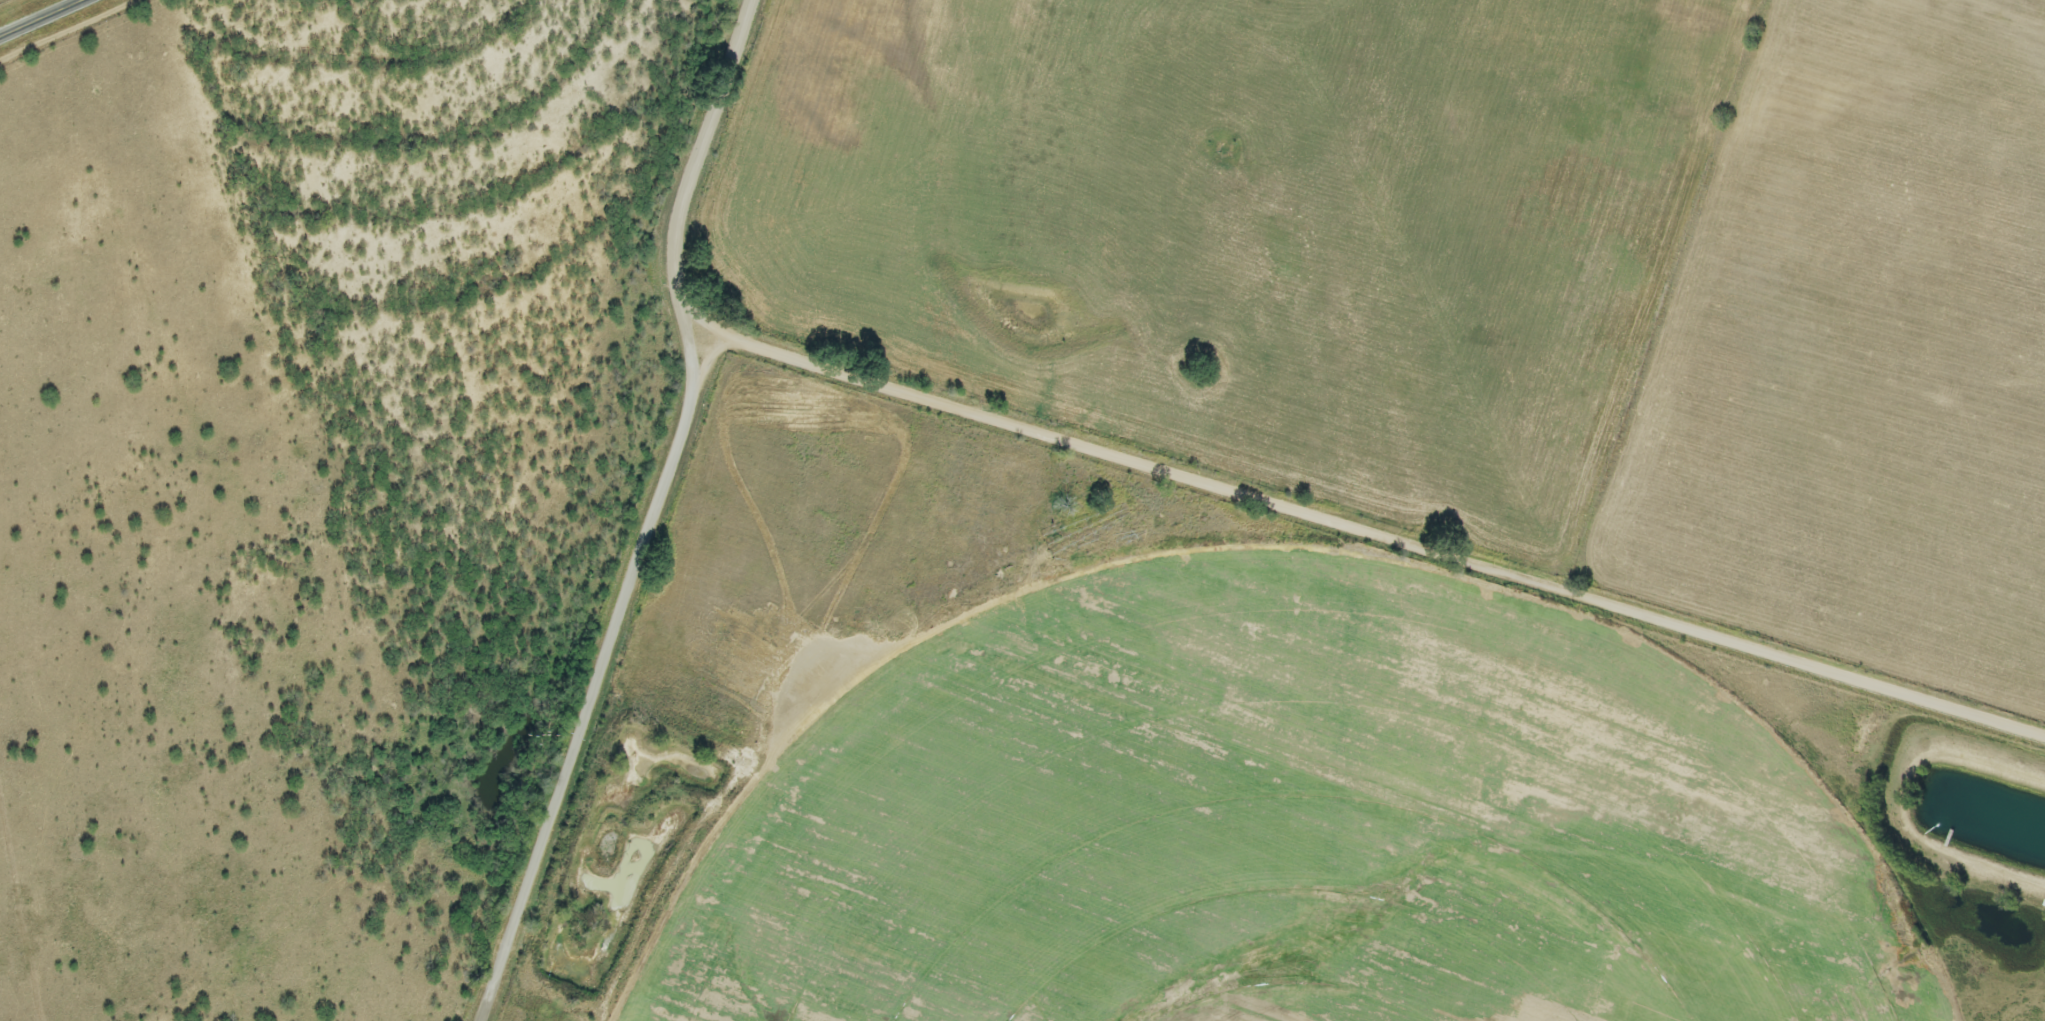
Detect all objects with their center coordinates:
road: (39, 17)
road: (699, 303)
road: (710, 357)
road: (649, 513)
road: (1391, 535)

